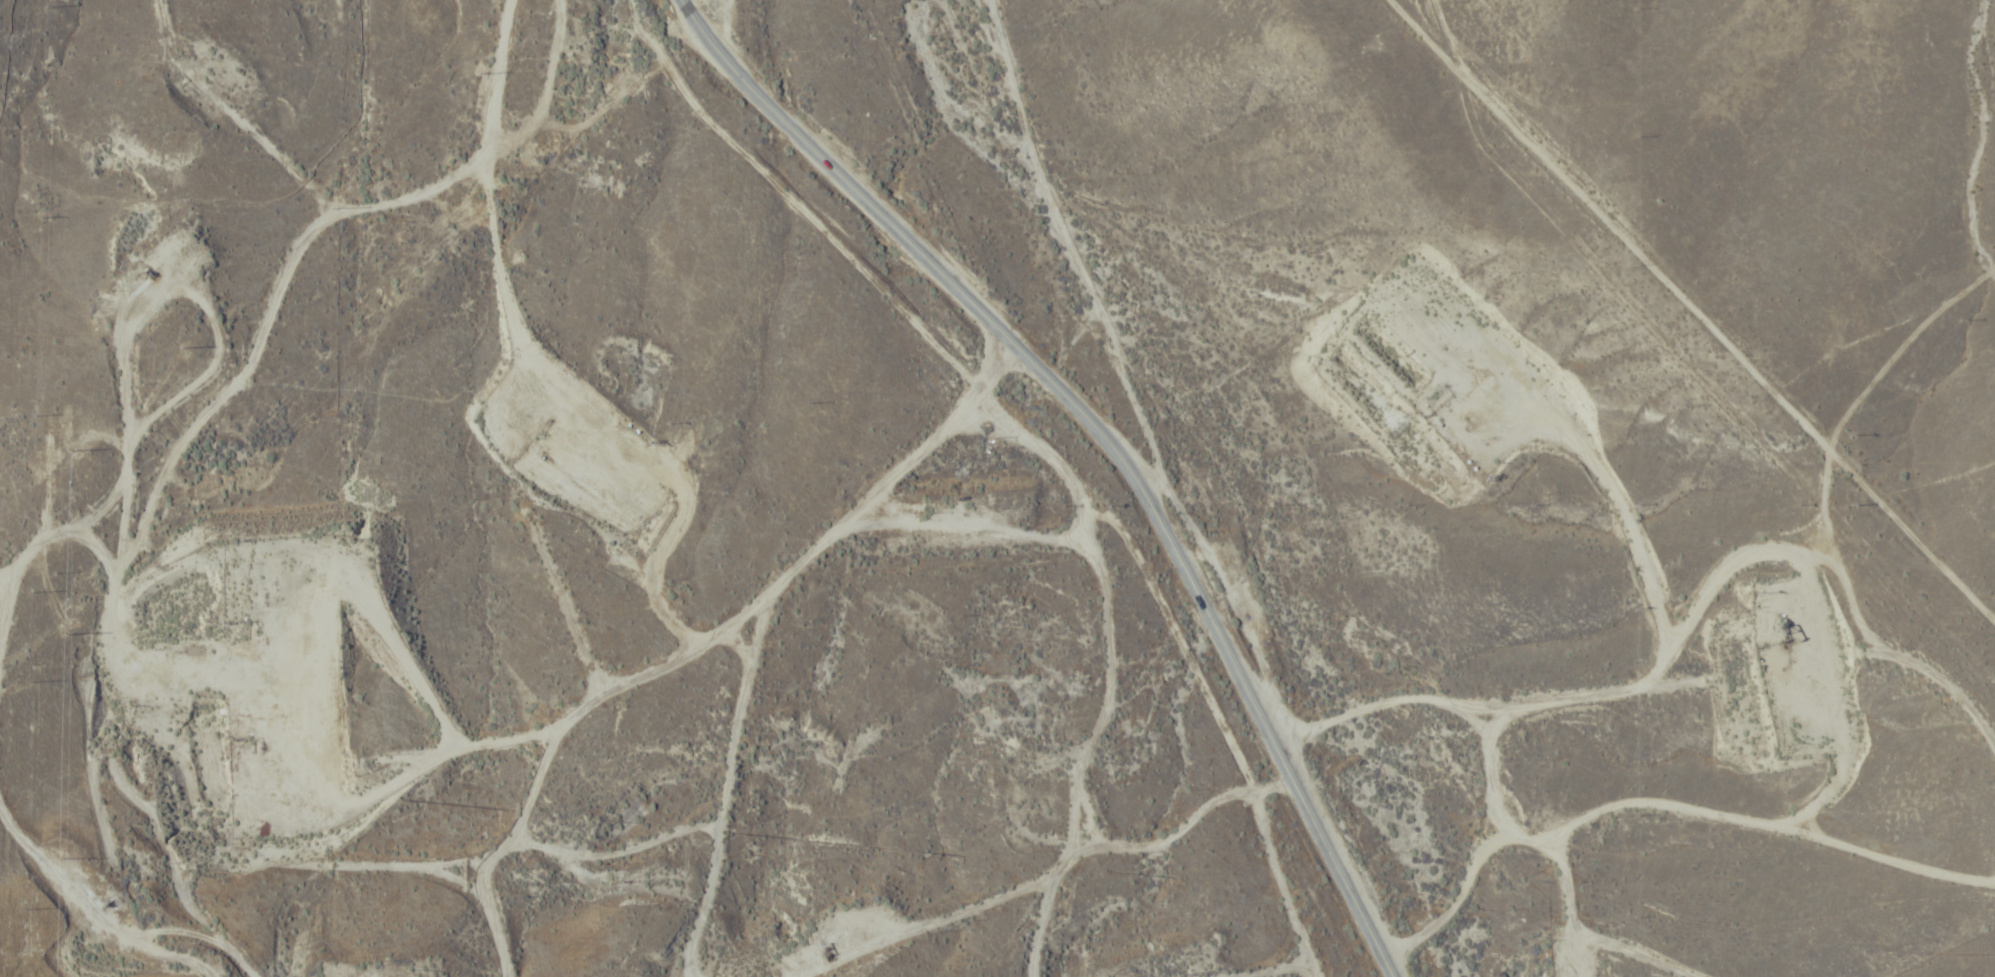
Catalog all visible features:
road: (1108, 439)
road: (298, 468)
road: (1664, 716)

